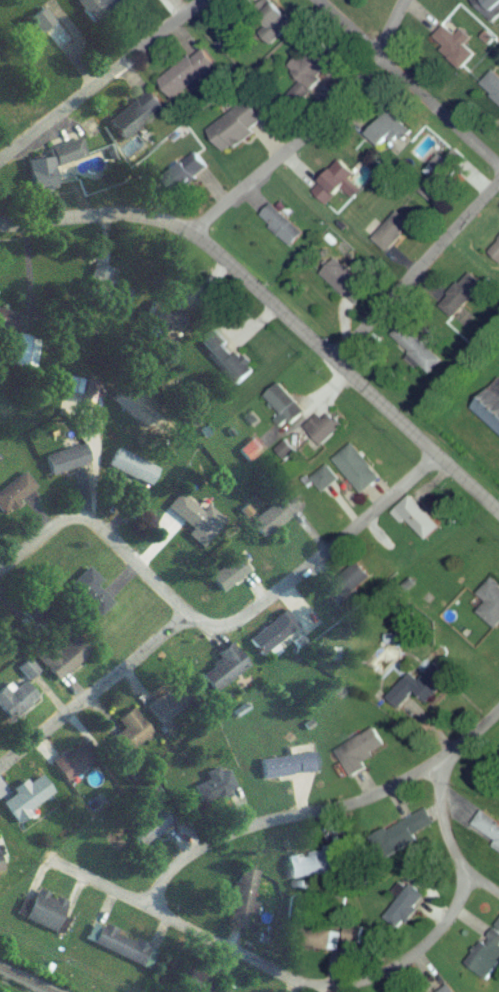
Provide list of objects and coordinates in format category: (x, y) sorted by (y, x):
building: (97, 10)
building: (487, 11)
building: (271, 27)
building: (452, 49)
building: (45, 51)
building: (185, 79)
road: (106, 84)
building: (299, 84)
road: (406, 85)
building: (491, 92)
building: (134, 120)
road: (309, 124)
building: (234, 133)
building: (387, 138)
road: (269, 142)
building: (65, 158)
building: (38, 180)
building: (332, 188)
building: (432, 190)
road: (214, 191)
building: (280, 230)
building: (390, 237)
building: (494, 257)
road: (26, 267)
road: (415, 275)
building: (97, 283)
building: (340, 286)
building: (461, 300)
road: (272, 309)
building: (414, 354)
building: (26, 357)
building: (72, 391)
road: (326, 392)
building: (489, 412)
building: (323, 434)
building: (64, 465)
building: (129, 473)
building: (355, 475)
building: (323, 485)
building: (14, 497)
building: (415, 524)
building: (346, 590)
building: (86, 599)
building: (489, 610)
road: (217, 628)
building: (270, 639)
building: (57, 662)
building: (26, 675)
building: (222, 676)
road: (92, 690)
building: (420, 693)
building: (14, 705)
building: (167, 709)
road: (469, 736)
building: (129, 739)
building: (354, 760)
building: (71, 769)
building: (285, 771)
building: (210, 792)
building: (25, 803)
building: (148, 833)
building: (486, 833)
building: (396, 842)
building: (315, 870)
road: (101, 889)
road: (484, 891)
building: (241, 897)
building: (403, 912)
building: (42, 916)
building: (352, 940)
building: (319, 943)
building: (120, 950)
road: (227, 952)
building: (484, 963)
railway: (19, 982)

